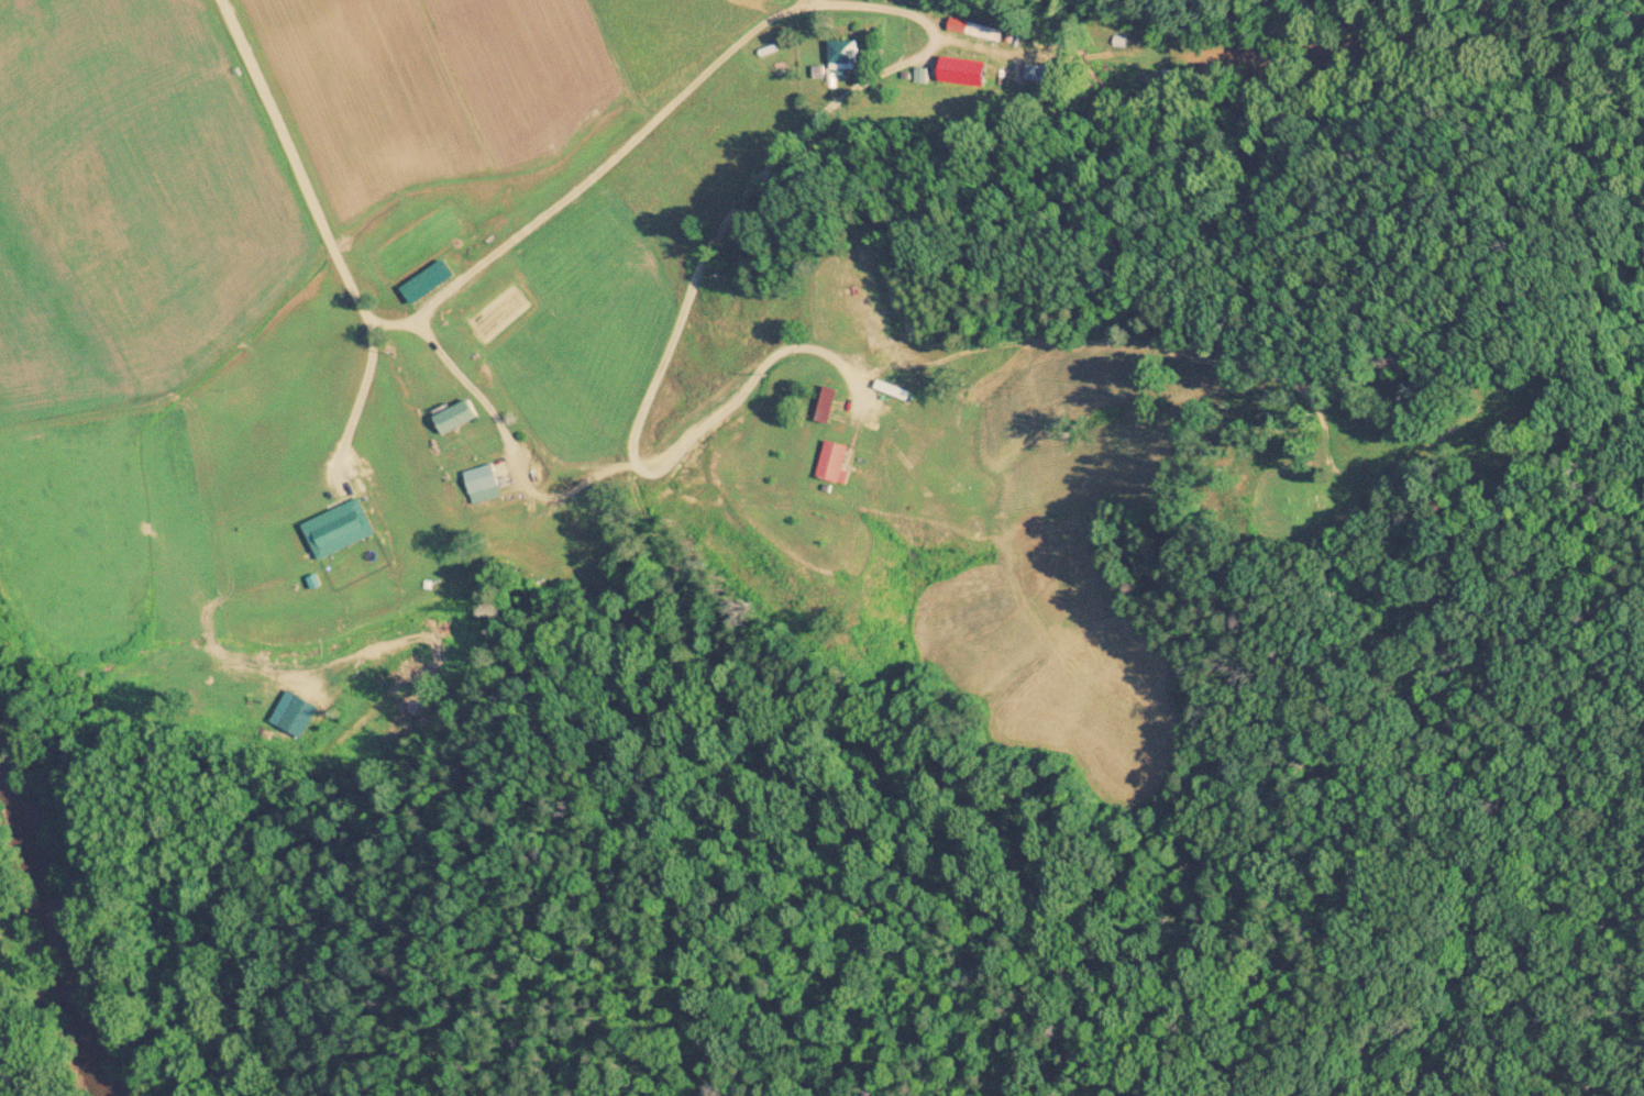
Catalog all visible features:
building: (894, 390)
building: (828, 406)
building: (457, 417)
building: (834, 462)
building: (484, 479)
building: (340, 530)
river: (64, 925)
road: (4, 1076)

